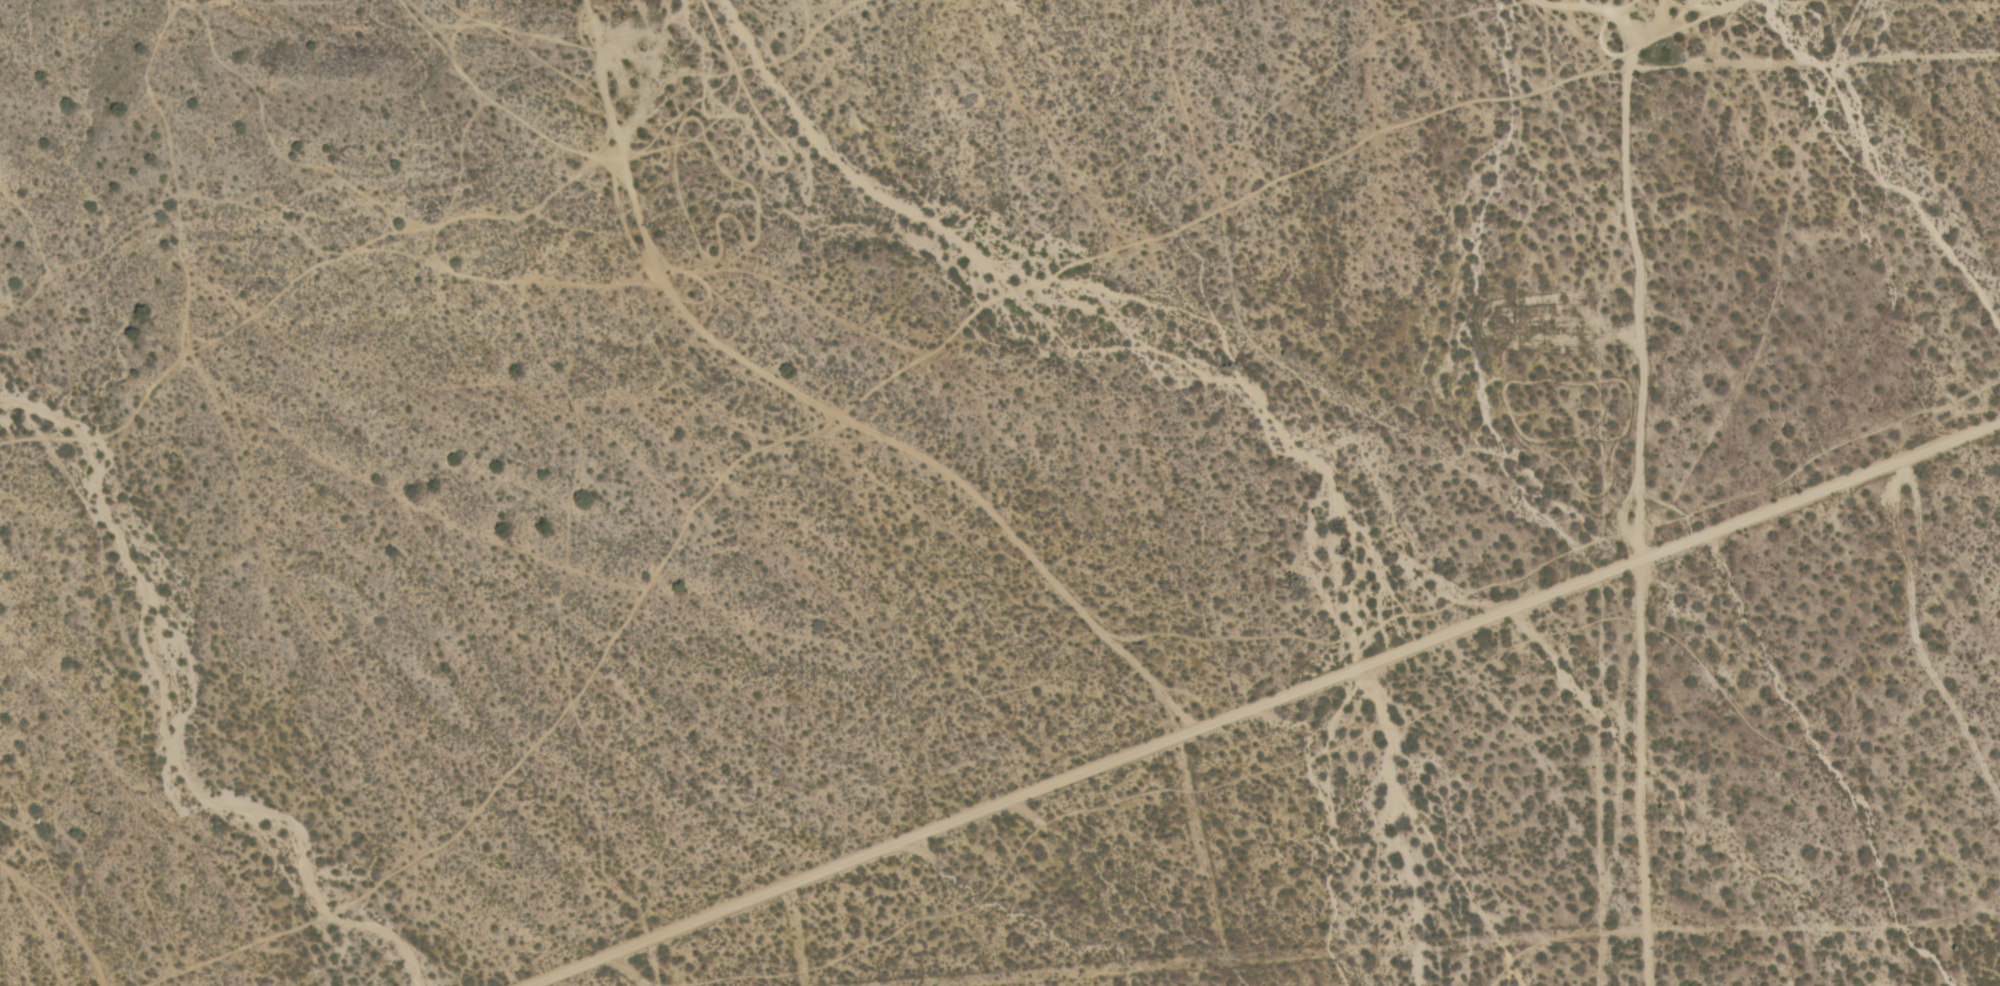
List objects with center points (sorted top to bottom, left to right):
road: (1643, 326)
road: (818, 409)
road: (1261, 700)
road: (1593, 784)
road: (1799, 941)

